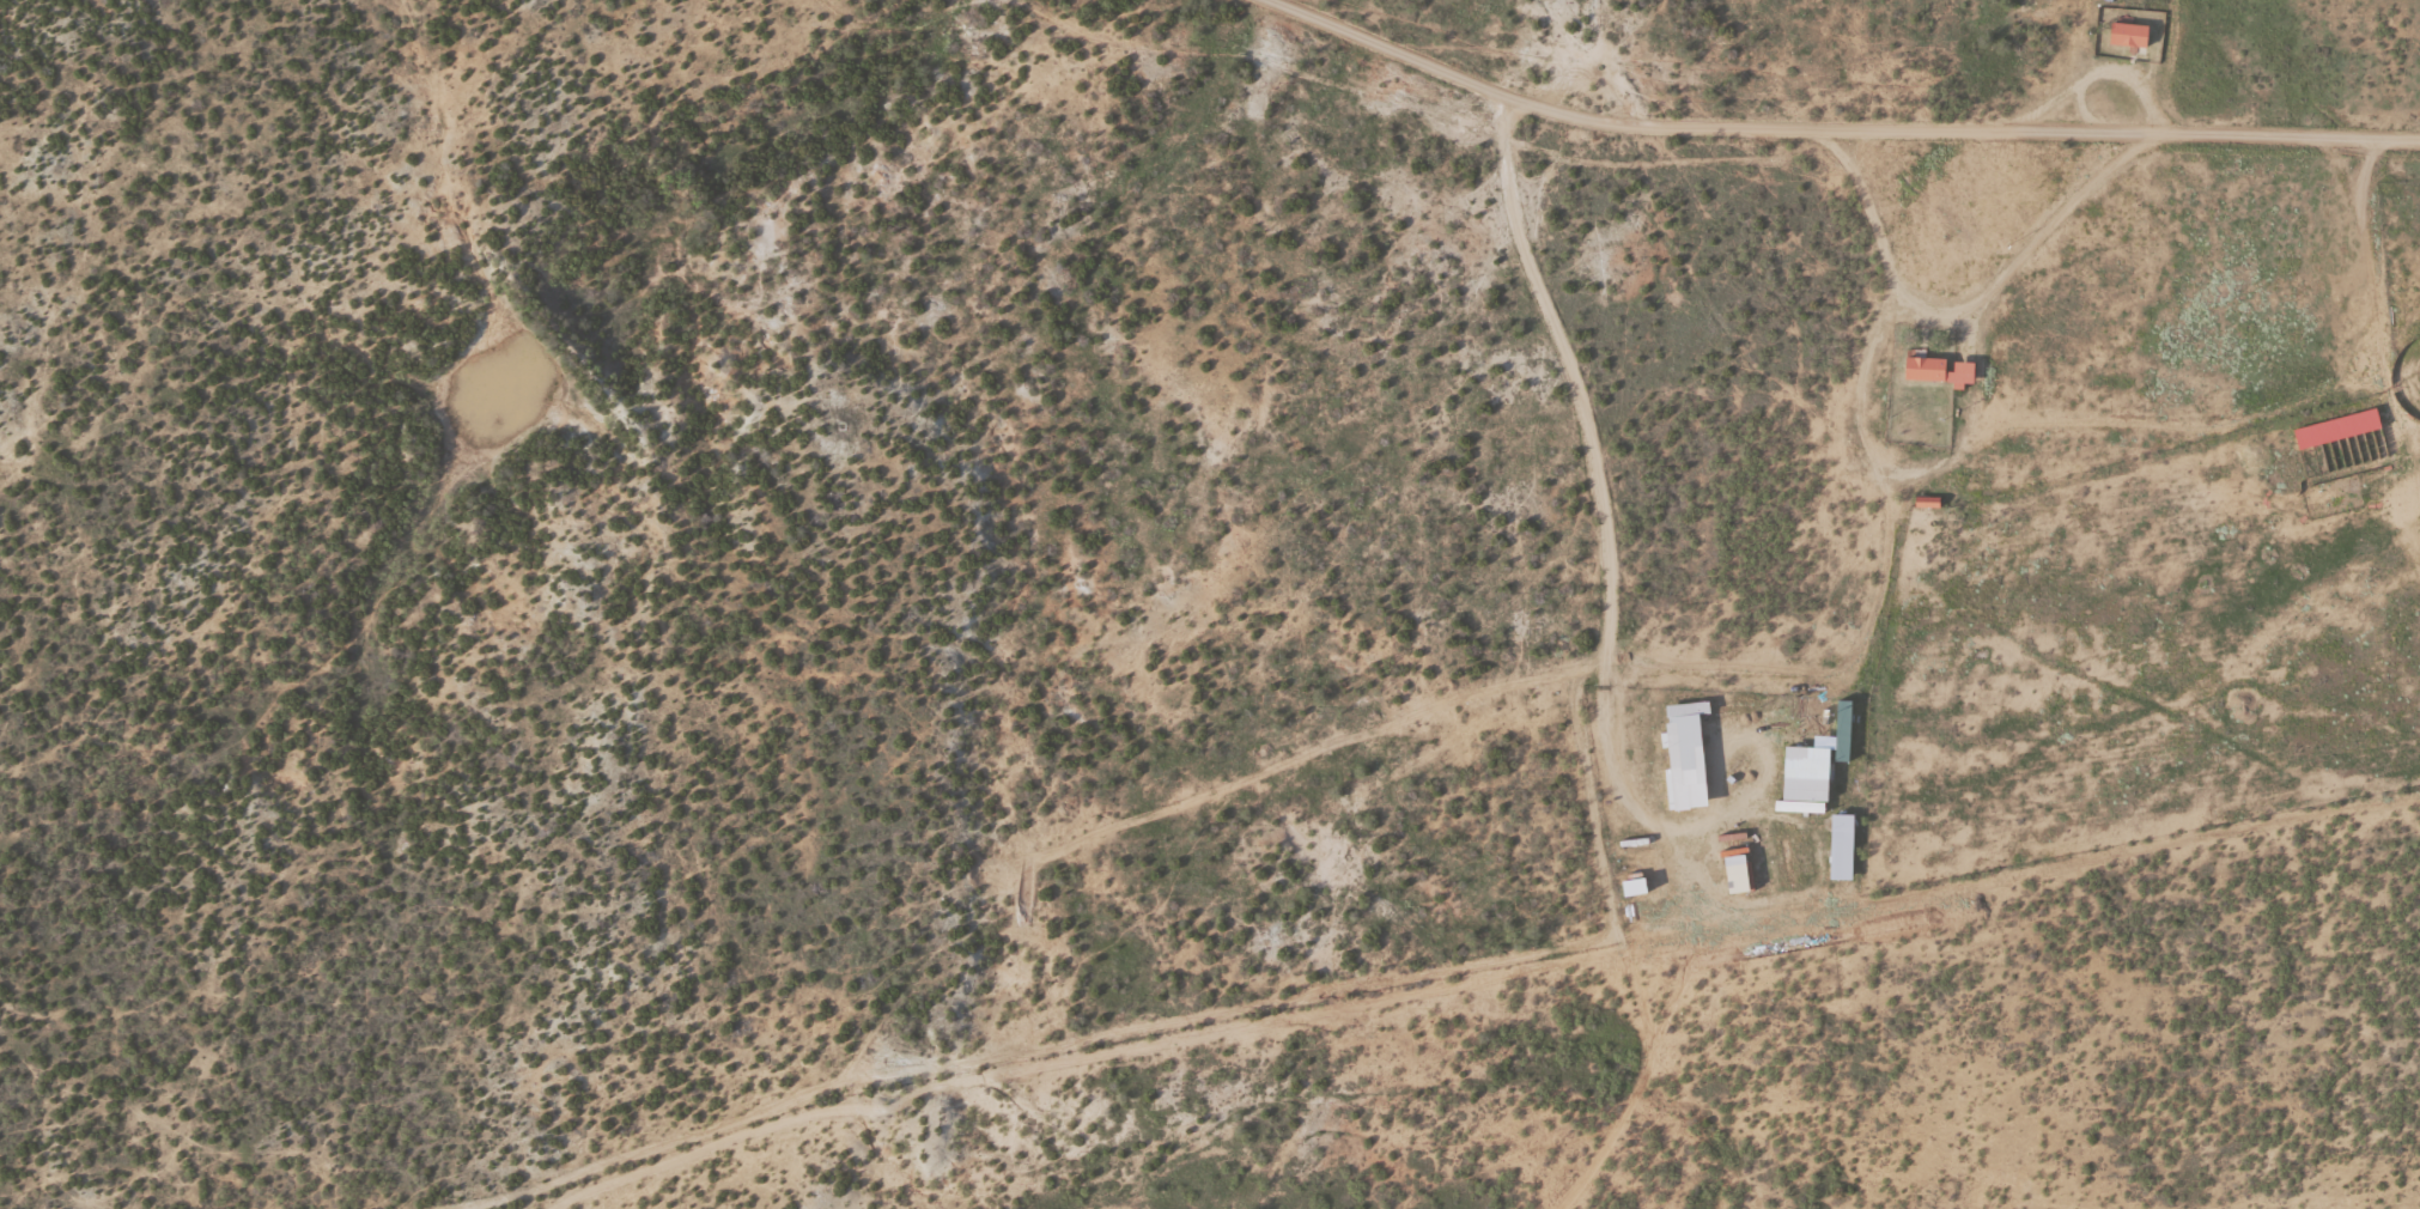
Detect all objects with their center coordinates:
building: (2128, 35)
road: (1840, 123)
building: (1938, 372)
building: (2336, 430)
road: (1604, 648)
building: (1684, 755)
building: (1841, 847)
road: (1486, 1168)
road: (457, 1197)

